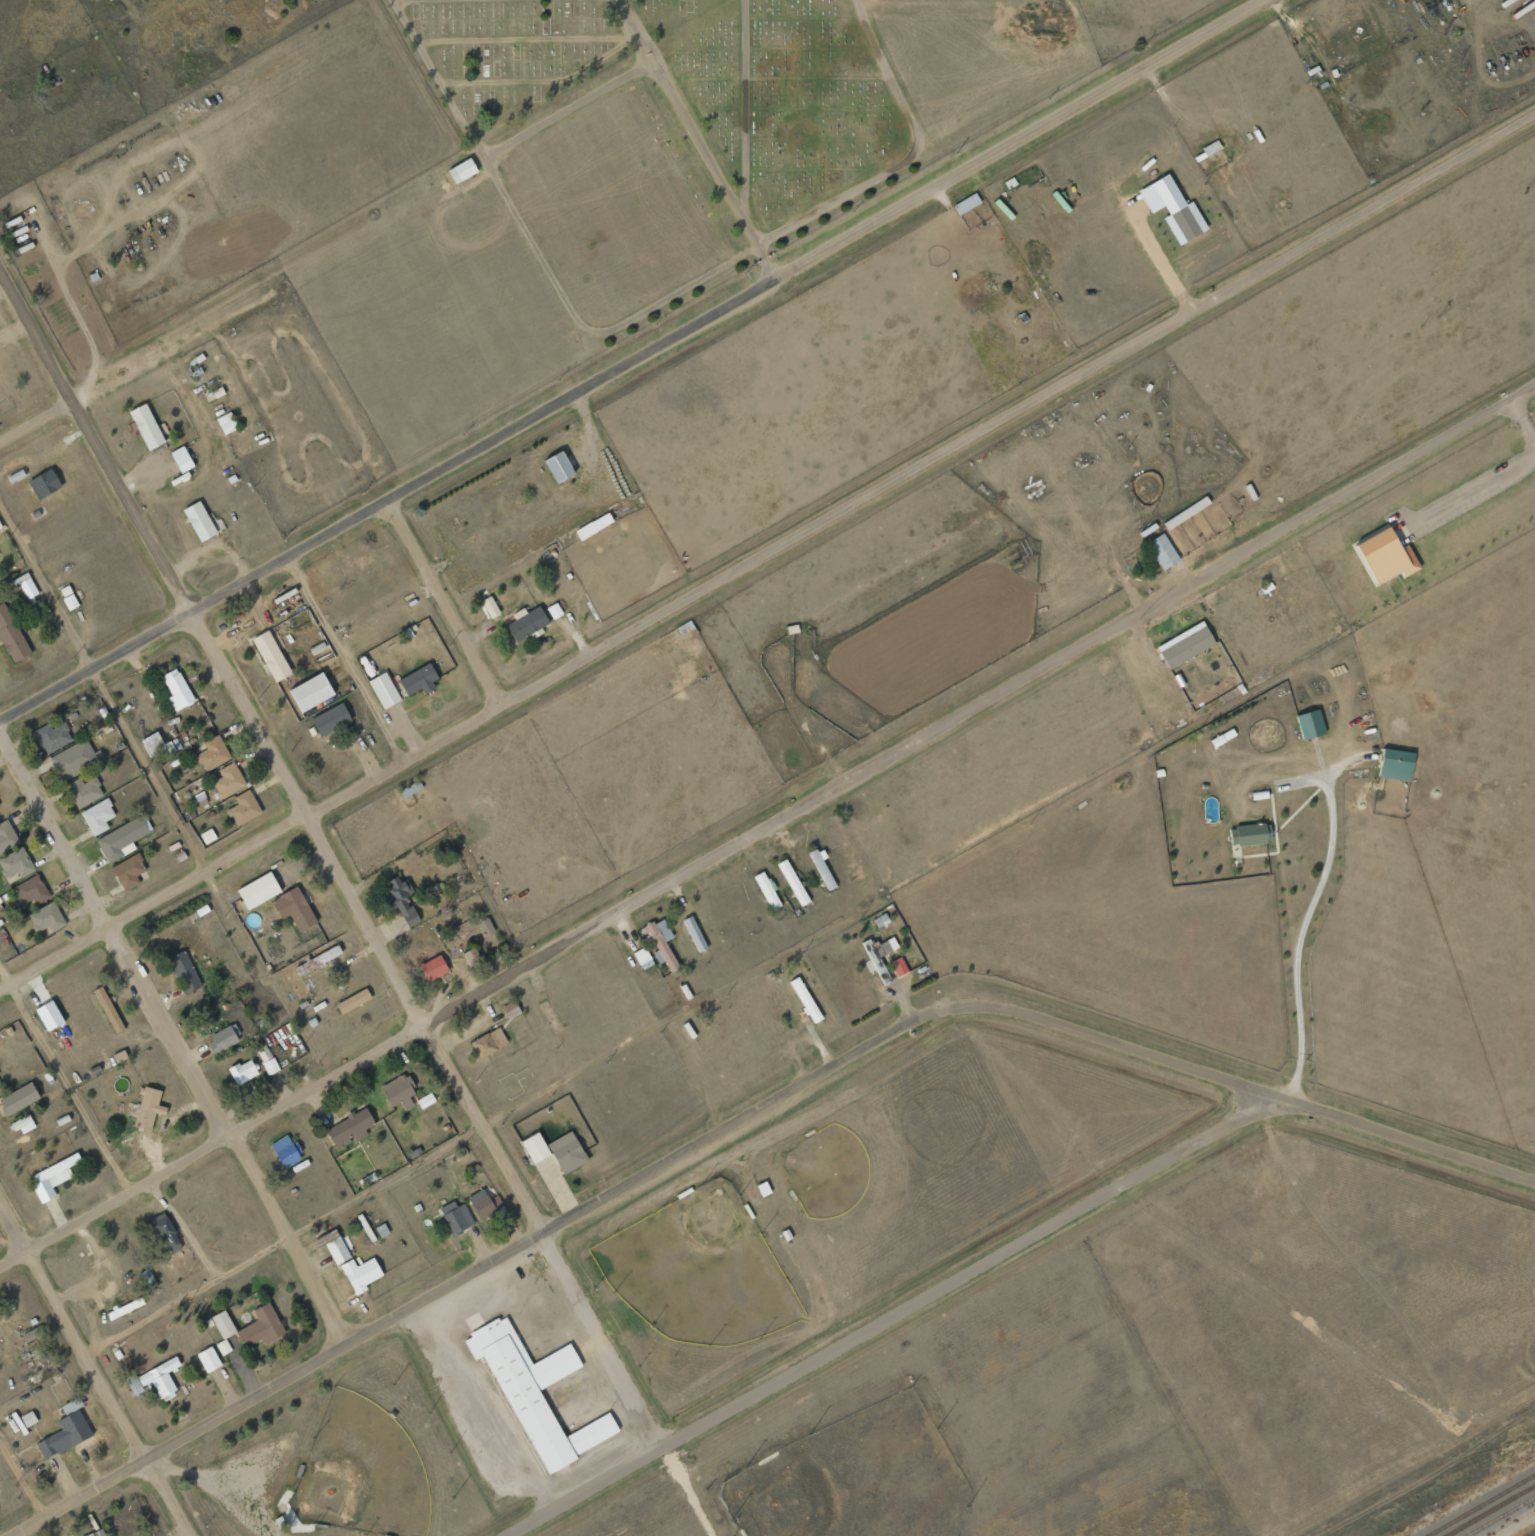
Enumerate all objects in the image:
building: (462, 170)
building: (966, 203)
building: (1169, 204)
road: (632, 359)
road: (36, 420)
building: (226, 422)
building: (146, 425)
building: (558, 452)
building: (181, 458)
building: (558, 465)
building: (43, 482)
building: (593, 514)
building: (200, 520)
building: (593, 525)
building: (1386, 540)
building: (1162, 550)
road: (768, 551)
building: (27, 584)
road: (442, 603)
building: (490, 606)
building: (554, 610)
building: (527, 622)
building: (11, 635)
building: (1185, 644)
building: (271, 654)
road: (346, 656)
building: (418, 679)
building: (177, 688)
building: (384, 689)
road: (102, 690)
building: (310, 691)
building: (330, 718)
building: (1309, 723)
building: (53, 736)
building: (152, 742)
building: (212, 753)
building: (75, 759)
building: (1395, 763)
building: (228, 780)
building: (410, 788)
building: (84, 791)
building: (243, 807)
building: (97, 816)
road: (766, 822)
building: (1251, 833)
building: (207, 835)
building: (7, 836)
building: (121, 839)
road: (330, 857)
building: (15, 863)
building: (822, 867)
building: (128, 871)
building: (793, 881)
building: (258, 889)
building: (767, 889)
building: (30, 890)
building: (401, 899)
building: (294, 908)
building: (46, 917)
building: (485, 926)
building: (465, 928)
building: (694, 933)
building: (660, 941)
building: (879, 947)
building: (319, 959)
building: (469, 960)
building: (898, 966)
building: (433, 967)
building: (183, 971)
building: (353, 1000)
building: (108, 1008)
building: (508, 1010)
building: (224, 1037)
road: (176, 1041)
building: (488, 1042)
building: (267, 1059)
building: (243, 1071)
road: (65, 1073)
building: (399, 1091)
building: (18, 1098)
building: (425, 1099)
building: (148, 1107)
road: (742, 1116)
building: (23, 1124)
building: (350, 1127)
building: (535, 1147)
building: (285, 1151)
building: (566, 1152)
park: (828, 1169)
building: (52, 1177)
building: (483, 1203)
building: (456, 1216)
building: (381, 1230)
road: (277, 1231)
building: (166, 1233)
building: (337, 1250)
park: (701, 1269)
building: (360, 1273)
building: (148, 1278)
building: (124, 1308)
road: (888, 1315)
building: (261, 1326)
building: (223, 1331)
building: (32, 1333)
park: (856, 1334)
building: (208, 1358)
road: (93, 1372)
building: (160, 1379)
building: (536, 1379)
building: (133, 1384)
building: (71, 1405)
building: (28, 1418)
building: (64, 1435)
park: (340, 1455)
park: (363, 1471)
road: (23, 1474)
park: (856, 1479)
railway: (1479, 1504)
railway: (1488, 1509)
railway: (1500, 1515)
building: (91, 1534)

